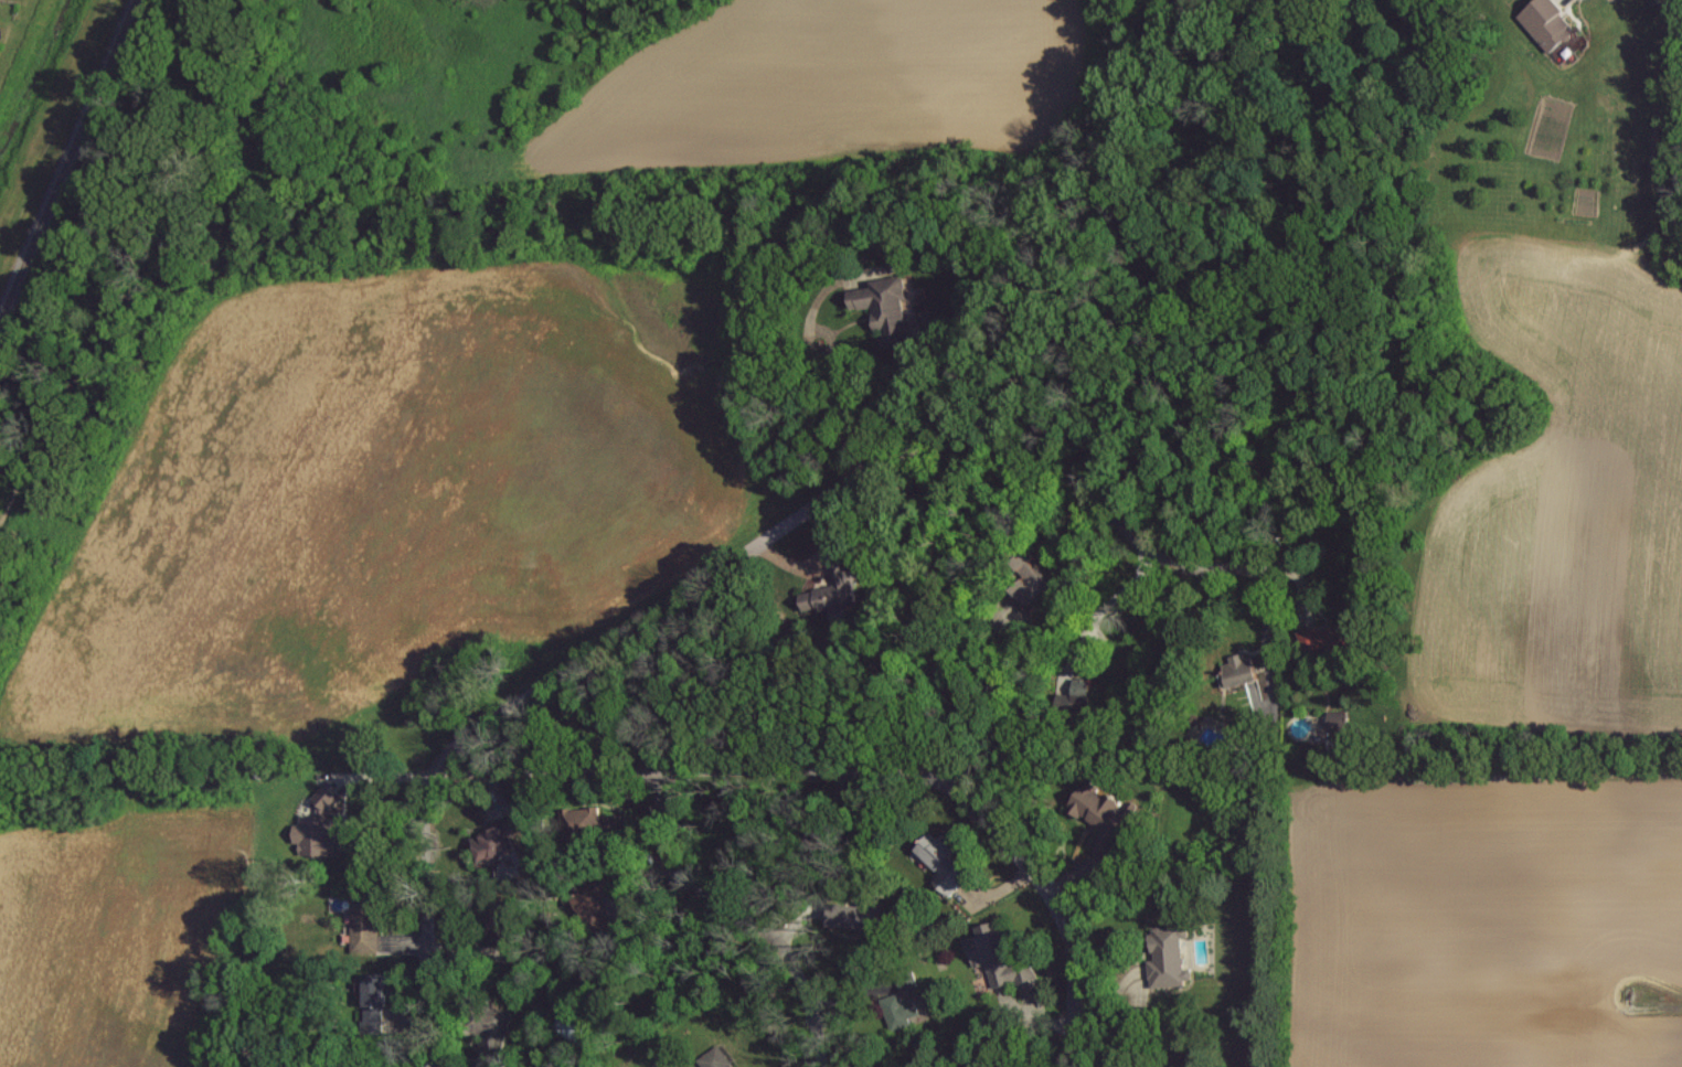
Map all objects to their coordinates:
building: (1545, 25)
crop: (815, 79)
railway: (70, 163)
building: (884, 302)
road: (855, 479)
crop: (377, 492)
crop: (1564, 503)
road: (781, 557)
road: (807, 568)
building: (1035, 572)
road: (1302, 586)
building: (837, 589)
road: (1100, 611)
building: (1327, 641)
building: (1239, 669)
building: (1080, 691)
building: (1334, 717)
road: (852, 769)
road: (546, 771)
building: (327, 798)
building: (582, 818)
building: (1103, 818)
building: (317, 837)
building: (944, 866)
building: (850, 914)
road: (427, 917)
road: (741, 918)
crop: (1478, 927)
crop: (115, 935)
building: (364, 935)
road: (1072, 950)
building: (1165, 962)
building: (1001, 963)
building: (379, 990)
petroleum well: (1631, 994)
building: (902, 1002)
building: (715, 1060)

